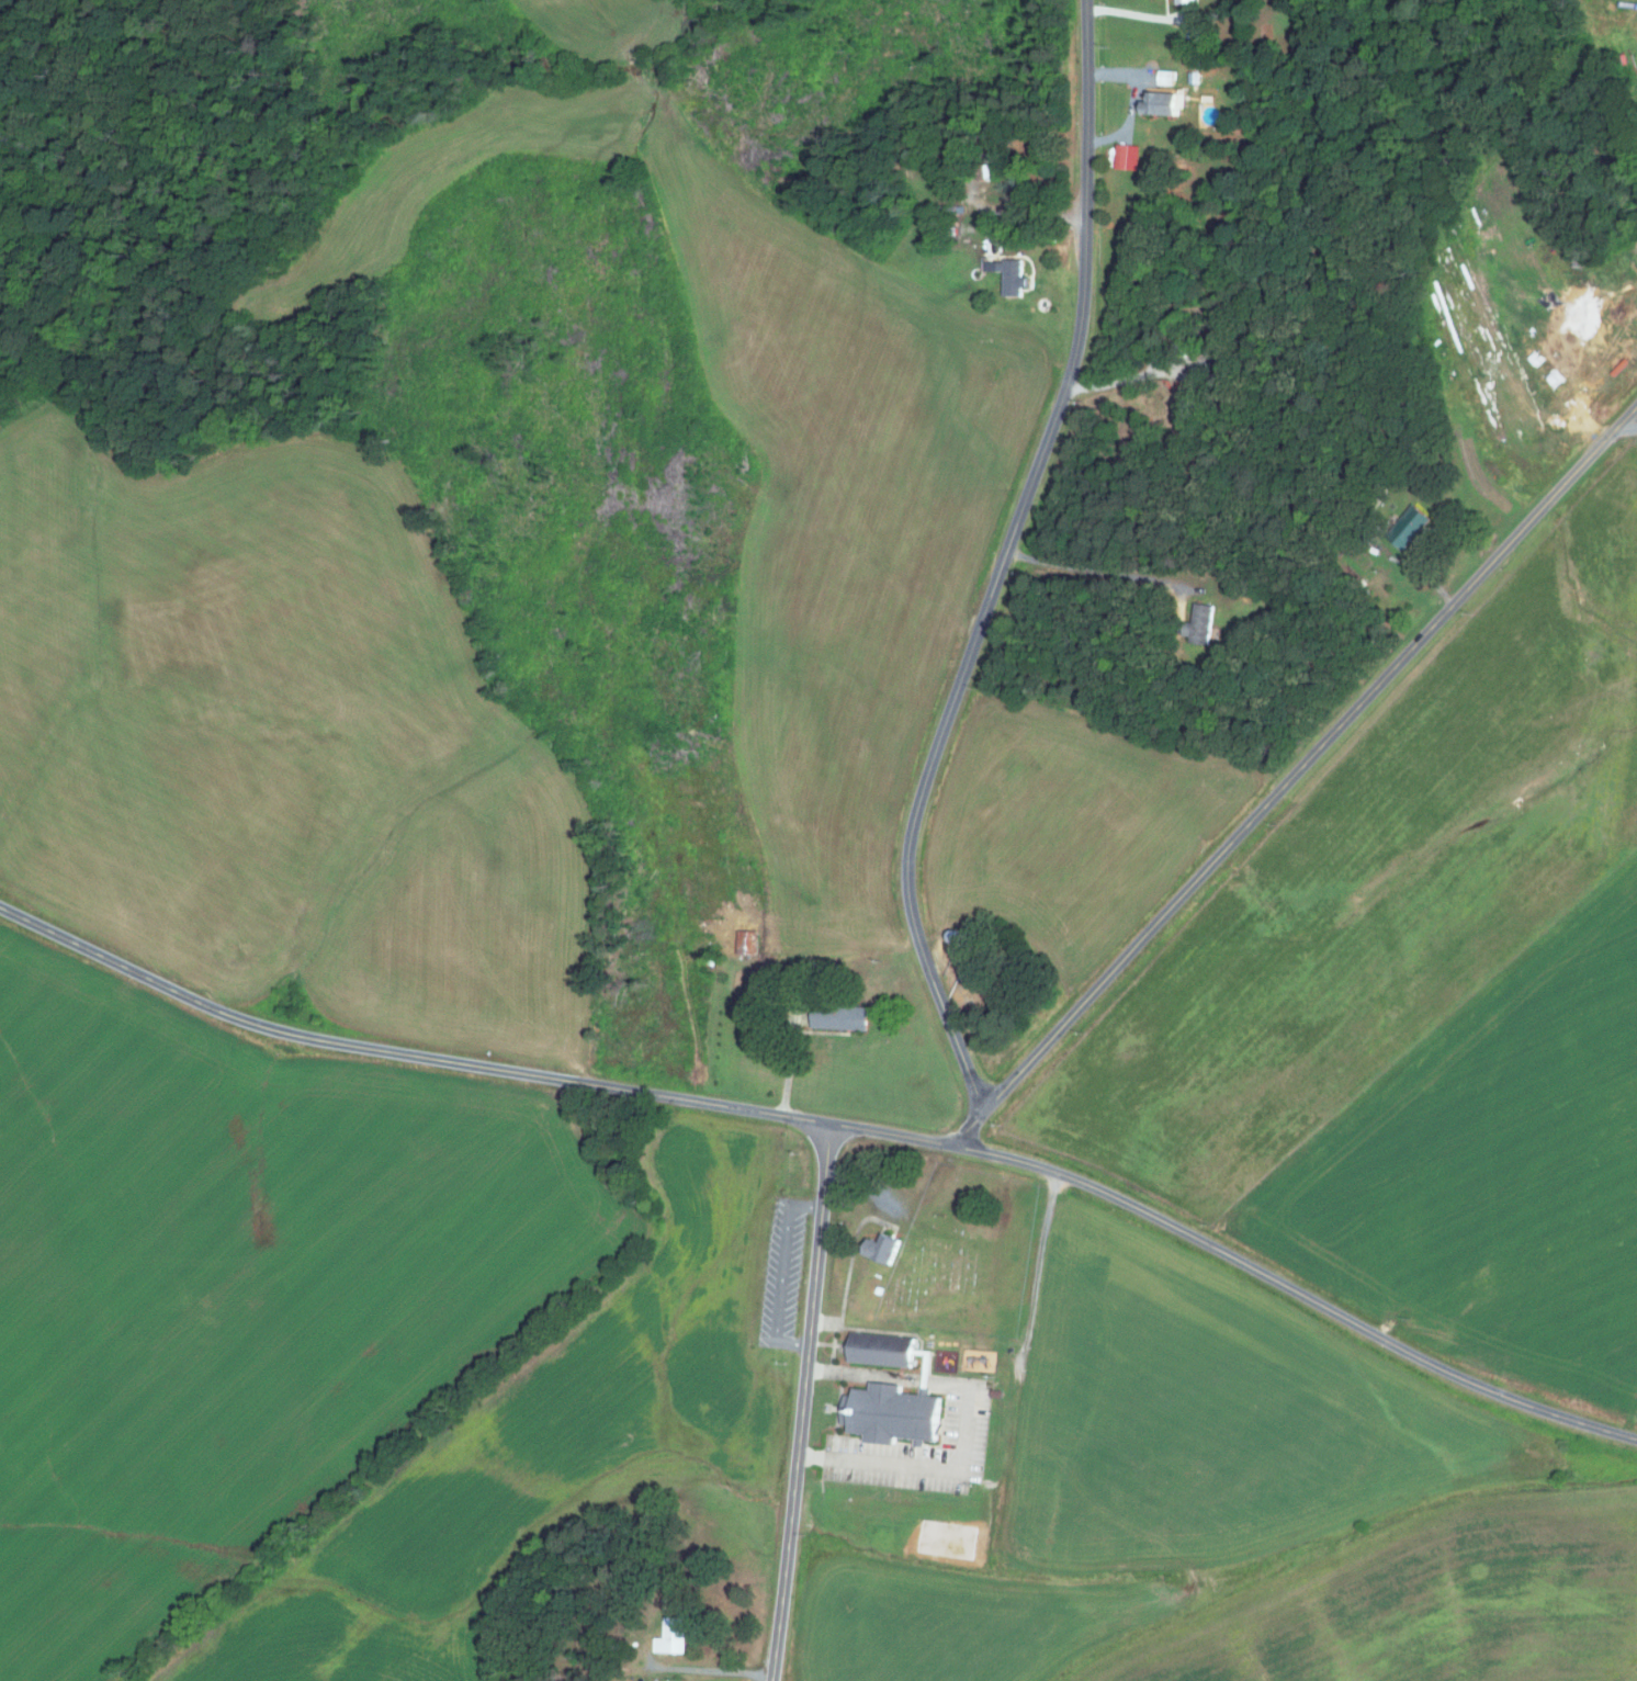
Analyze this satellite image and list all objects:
building: (1182, 1)
road: (1603, 16)
building: (1163, 77)
building: (1192, 78)
building: (1162, 102)
road: (1035, 217)
building: (1011, 274)
road: (1628, 427)
building: (1405, 528)
road: (1434, 550)
road: (1003, 561)
road: (1104, 572)
building: (1196, 625)
road: (1296, 774)
building: (748, 943)
building: (828, 969)
building: (843, 1018)
road: (409, 1057)
road: (792, 1061)
building: (883, 1246)
park: (967, 1253)
road: (1245, 1264)
road: (783, 1273)
parking lot: (783, 1274)
building: (882, 1349)
building: (997, 1392)
road: (803, 1402)
building: (892, 1412)
road: (967, 1429)
building: (675, 1637)
road: (709, 1670)

